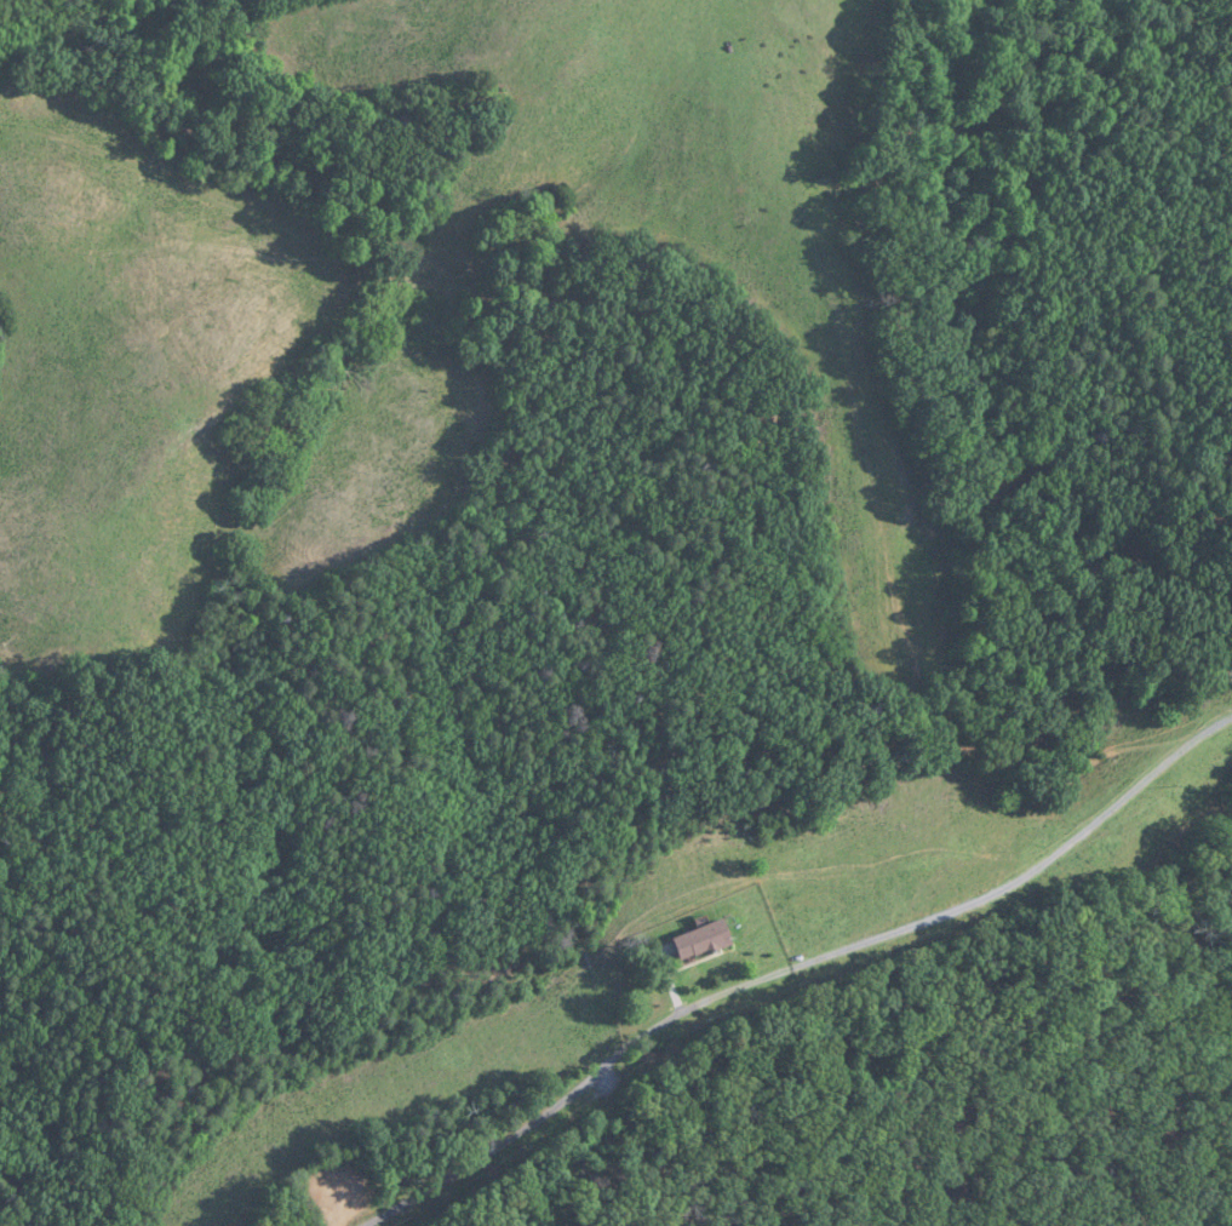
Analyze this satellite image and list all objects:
road: (962, 907)
building: (703, 941)
road: (514, 1134)

